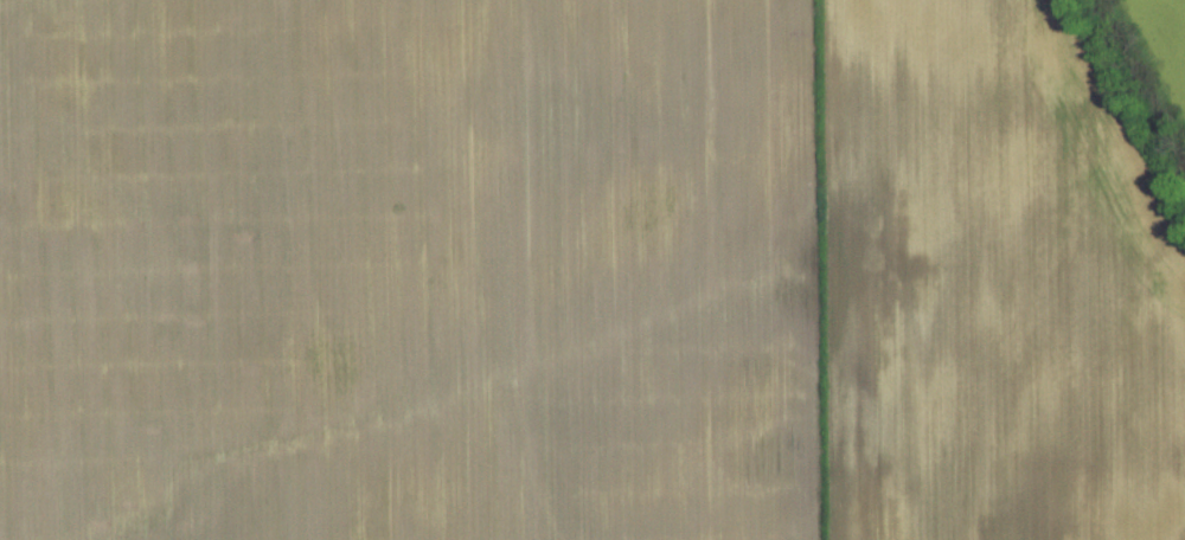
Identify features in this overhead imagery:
park: (1149, 76)

